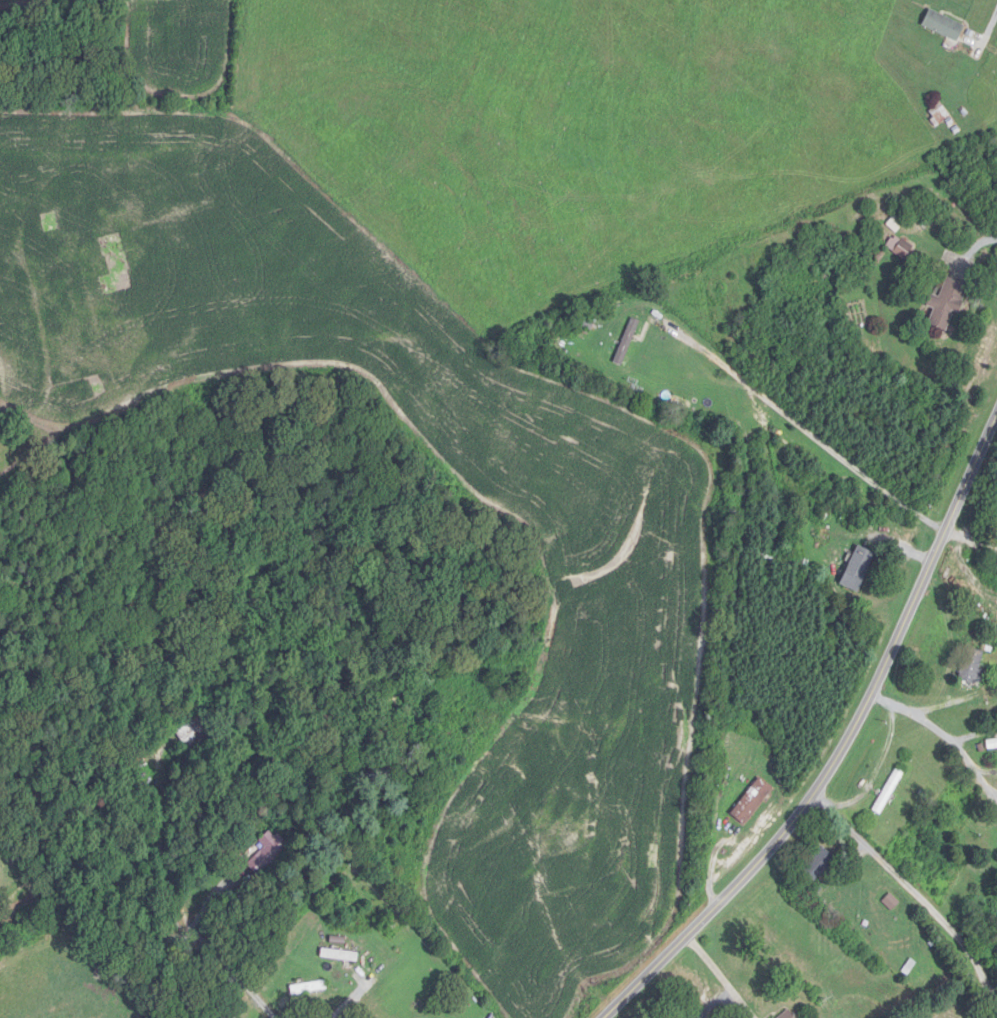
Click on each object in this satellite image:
building: (944, 25)
road: (985, 28)
building: (939, 115)
road: (980, 244)
building: (904, 249)
building: (947, 304)
building: (628, 341)
road: (801, 424)
building: (858, 569)
road: (945, 731)
building: (197, 732)
building: (993, 742)
road: (846, 745)
building: (889, 792)
building: (752, 801)
building: (267, 853)
building: (822, 864)
road: (915, 890)
building: (354, 917)
building: (340, 955)
road: (721, 972)
building: (309, 987)
road: (362, 991)
road: (267, 1008)
building: (787, 1014)
building: (235, 1017)

